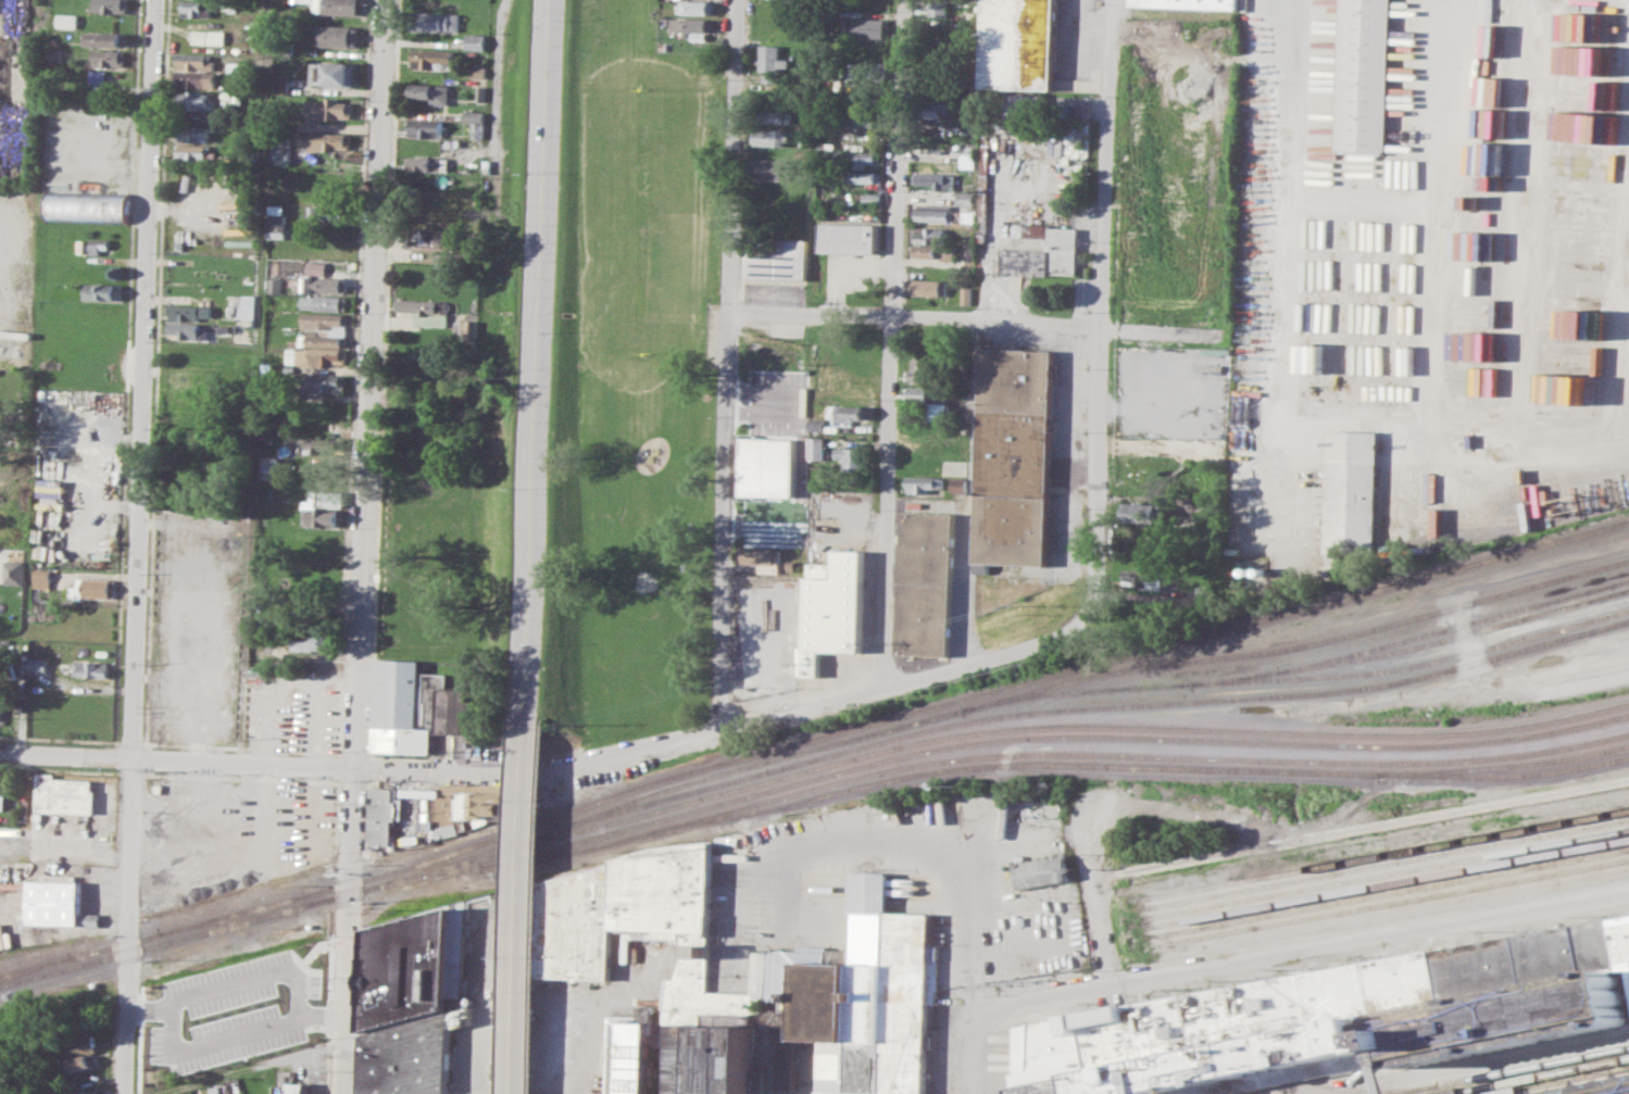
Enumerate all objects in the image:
building: (305, 0)
building: (1191, 3)
building: (111, 5)
building: (342, 7)
building: (694, 7)
building: (198, 8)
building: (939, 8)
building: (67, 20)
building: (434, 21)
building: (691, 24)
building: (864, 27)
building: (338, 36)
building: (210, 37)
building: (105, 38)
building: (476, 41)
building: (1023, 43)
building: (285, 47)
building: (55, 55)
building: (110, 58)
building: (431, 58)
building: (772, 59)
building: (196, 60)
building: (443, 65)
building: (862, 71)
building: (333, 74)
road: (499, 74)
building: (98, 76)
building: (1366, 77)
building: (197, 78)
building: (281, 85)
building: (431, 92)
building: (197, 100)
building: (330, 108)
building: (473, 116)
building: (777, 116)
building: (862, 123)
building: (425, 128)
building: (195, 133)
building: (769, 137)
building: (325, 140)
building: (192, 151)
building: (866, 158)
building: (427, 163)
building: (767, 168)
building: (937, 179)
building: (321, 183)
building: (88, 206)
building: (331, 213)
park: (647, 218)
building: (278, 221)
building: (930, 235)
building: (850, 237)
building: (101, 243)
building: (937, 251)
road: (993, 251)
building: (1043, 251)
building: (777, 257)
building: (317, 267)
building: (324, 284)
building: (276, 285)
building: (930, 287)
building: (104, 290)
road: (1102, 300)
building: (325, 301)
building: (243, 306)
building: (190, 311)
building: (425, 311)
road: (963, 318)
building: (323, 319)
building: (468, 327)
building: (226, 328)
building: (188, 329)
building: (323, 339)
road: (891, 343)
building: (186, 352)
building: (315, 356)
road: (536, 361)
road: (727, 362)
building: (924, 370)
park: (635, 379)
road: (258, 382)
building: (325, 382)
building: (185, 386)
building: (932, 398)
building: (850, 412)
building: (323, 444)
building: (817, 448)
building: (1015, 453)
building: (852, 457)
building: (270, 463)
building: (769, 466)
building: (925, 483)
building: (960, 483)
building: (1351, 491)
building: (328, 498)
building: (1143, 512)
building: (321, 516)
road: (140, 546)
road: (366, 546)
building: (763, 557)
building: (818, 570)
building: (13, 571)
building: (43, 578)
park: (644, 580)
building: (926, 584)
road: (964, 587)
building: (93, 589)
building: (834, 609)
building: (303, 621)
railway: (1454, 628)
building: (311, 642)
railway: (1415, 647)
building: (38, 665)
building: (91, 668)
railway: (1088, 678)
railway: (1303, 678)
railway: (1005, 689)
building: (1, 706)
building: (416, 707)
railway: (1044, 711)
road: (540, 712)
railway: (1627, 716)
railway: (1000, 730)
railway: (1045, 738)
railway: (1002, 755)
railway: (1144, 767)
road: (561, 769)
railway: (1513, 776)
building: (63, 793)
building: (2, 801)
building: (383, 817)
road: (945, 854)
railway: (1382, 854)
railway: (1383, 865)
building: (1040, 871)
railway: (1384, 873)
railway: (1386, 883)
road: (1091, 891)
railway: (1387, 894)
building: (54, 902)
railway: (1388, 903)
road: (539, 907)
road: (521, 908)
building: (91, 919)
railway: (226, 920)
railway: (193, 923)
railway: (193, 933)
road: (1290, 952)
building: (408, 968)
railway: (36, 969)
road: (249, 981)
building: (863, 996)
building: (1348, 1020)
road: (215, 1040)
building: (80, 1045)
road: (559, 1047)
building: (626, 1053)
building: (406, 1057)
building: (714, 1060)
building: (80, 1062)
building: (786, 1067)
road: (241, 1068)
road: (970, 1070)
railway: (1508, 1070)
railway: (1540, 1077)
building: (299, 1082)
building: (310, 1082)
railway: (1574, 1083)
building: (280, 1089)
building: (85, 1091)
railway: (1353, 1091)
building: (1614, 1091)
building: (197, 1093)
building: (1478, 1093)

